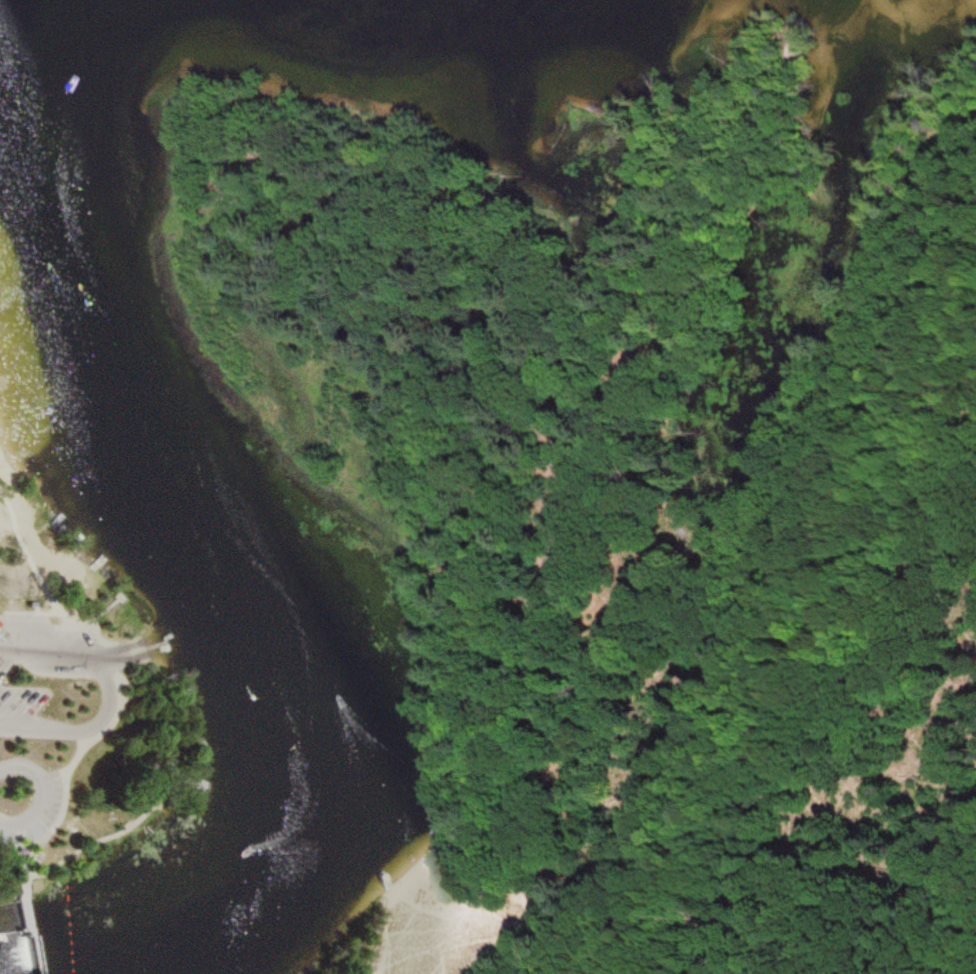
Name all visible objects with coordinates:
park: (642, 490)
river: (200, 551)
road: (118, 674)
parking lot: (102, 676)
road: (172, 710)
park: (72, 716)
road: (89, 729)
road: (39, 792)
parking lot: (35, 806)
road: (27, 910)
dam: (19, 940)

